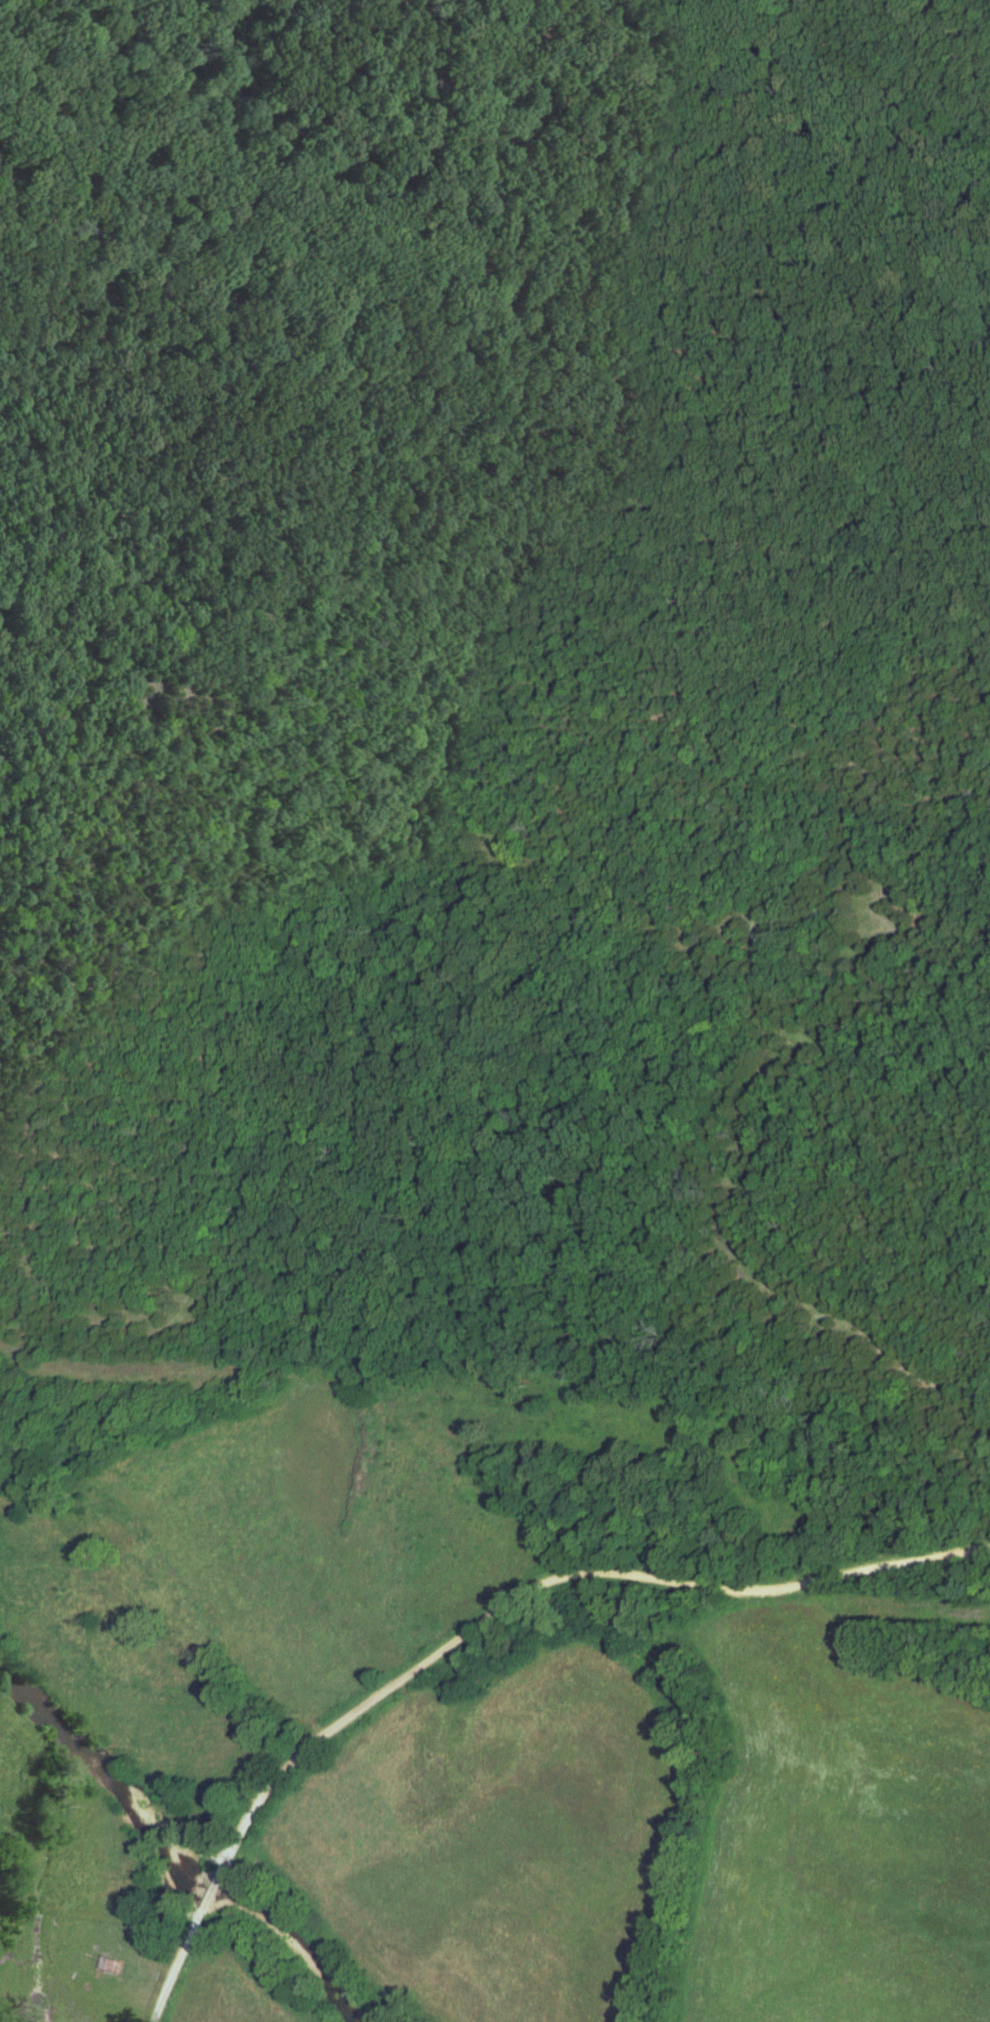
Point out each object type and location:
road: (479, 1625)
building: (109, 1966)

